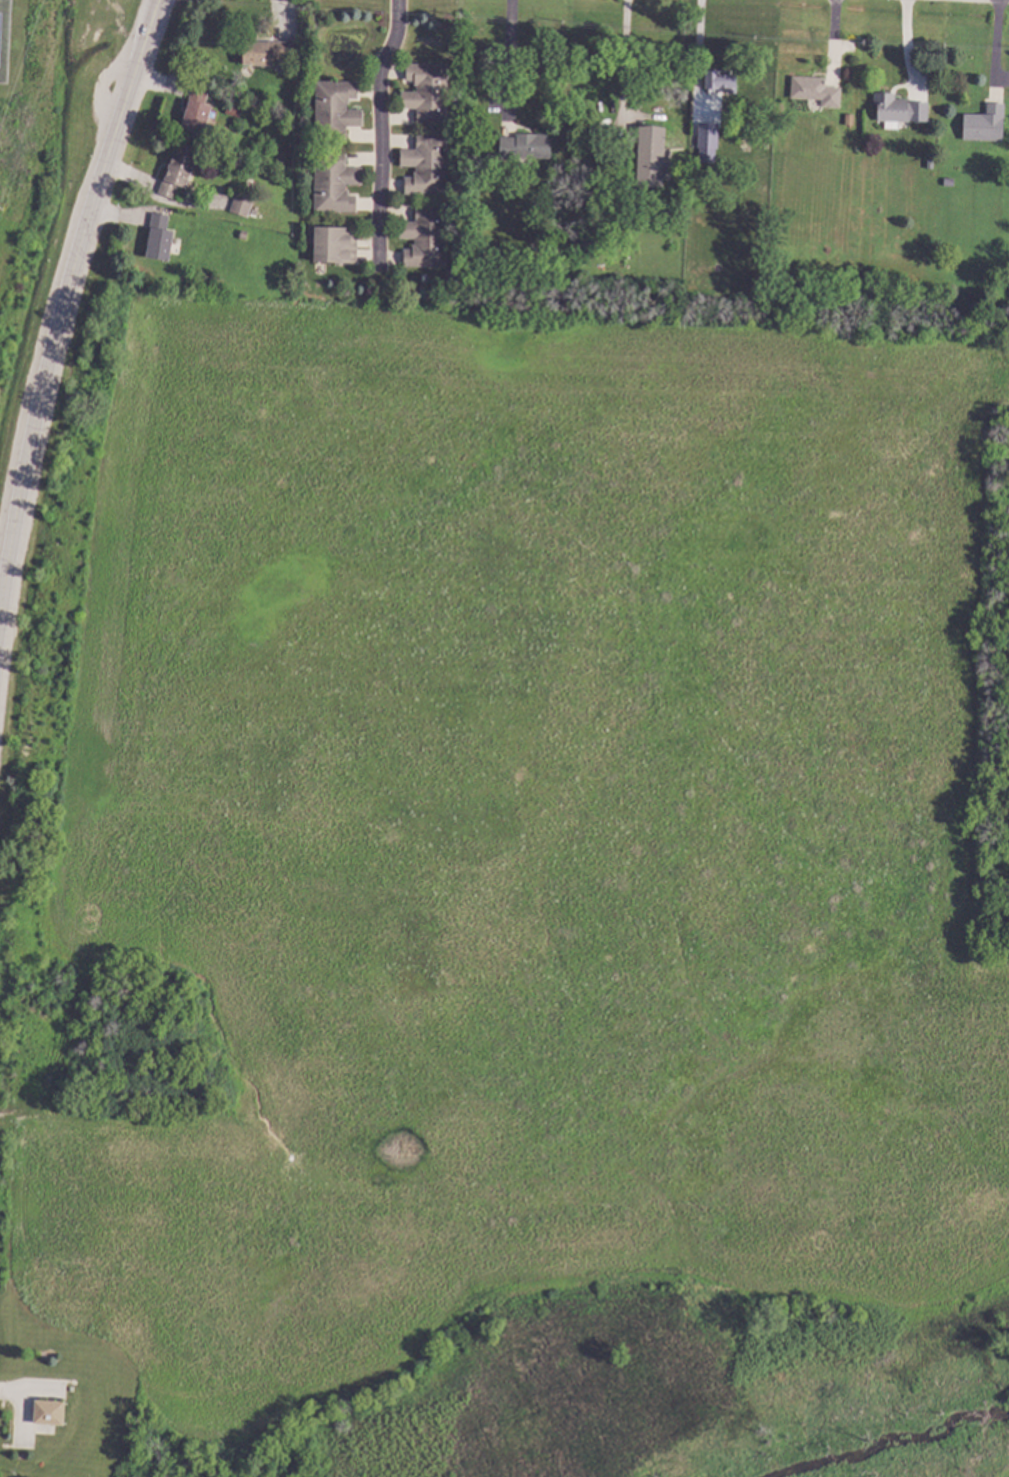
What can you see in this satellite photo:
park: (4, 39)
road: (905, 45)
park: (18, 47)
road: (699, 47)
road: (993, 47)
building: (265, 52)
road: (507, 56)
road: (623, 59)
building: (722, 80)
building: (816, 90)
building: (428, 92)
building: (235, 110)
building: (336, 110)
building: (895, 110)
building: (198, 111)
building: (754, 115)
building: (847, 119)
building: (985, 124)
road: (377, 132)
building: (709, 136)
building: (527, 146)
building: (651, 157)
building: (427, 166)
building: (177, 174)
building: (231, 179)
building: (950, 181)
building: (335, 183)
building: (243, 206)
building: (255, 212)
building: (244, 234)
building: (160, 238)
building: (427, 238)
building: (335, 245)
building: (547, 246)
building: (570, 248)
road: (64, 295)
building: (51, 1412)

